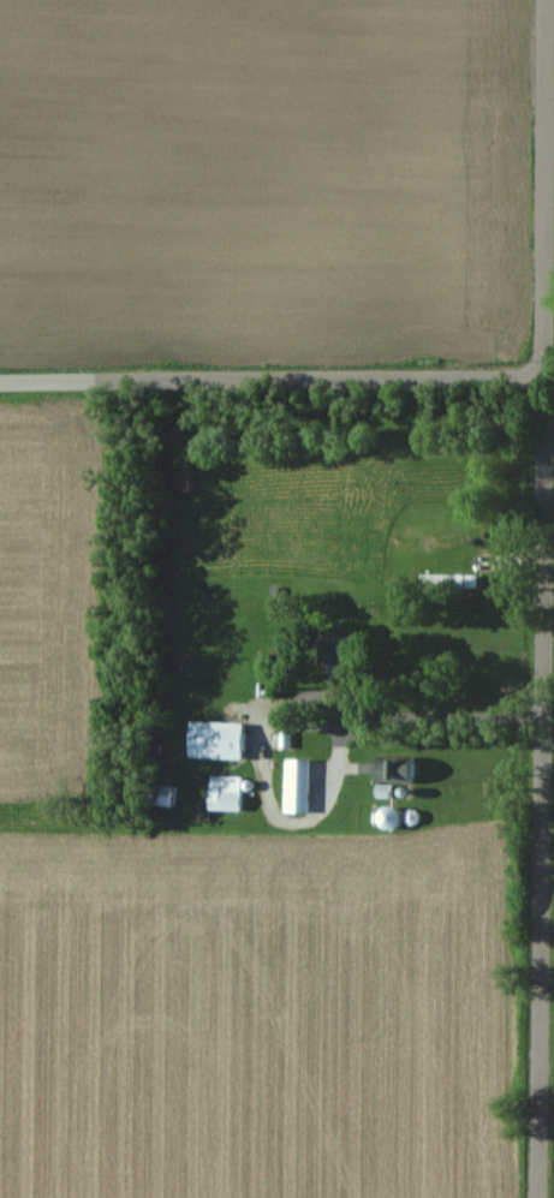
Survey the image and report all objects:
road: (550, 374)
road: (273, 376)
building: (447, 582)
road: (542, 598)
road: (413, 717)
building: (212, 740)
building: (294, 786)
building: (222, 793)
building: (156, 795)

